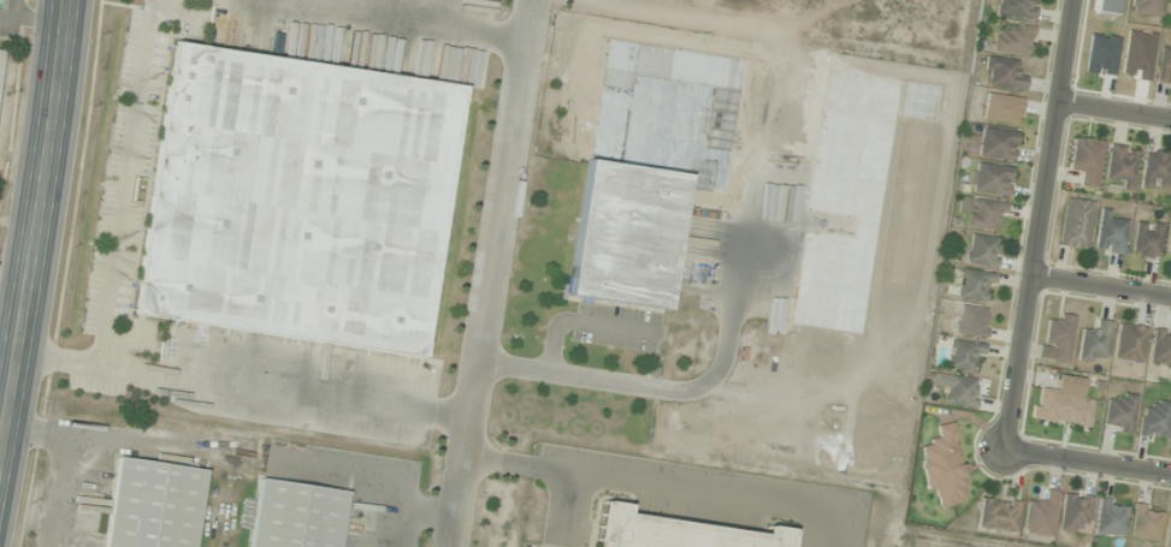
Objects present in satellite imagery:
building: (1170, 4)
building: (1146, 7)
building: (1016, 8)
road: (421, 16)
building: (1012, 38)
building: (0, 55)
building: (1164, 65)
building: (1003, 73)
building: (1001, 109)
road: (1113, 109)
building: (996, 144)
building: (1087, 161)
building: (1122, 165)
building: (1154, 170)
building: (992, 179)
road: (122, 184)
building: (296, 201)
road: (34, 213)
building: (981, 213)
building: (1075, 224)
road: (1039, 225)
building: (1110, 233)
building: (625, 236)
building: (1146, 239)
building: (1169, 249)
building: (982, 250)
road: (496, 273)
building: (975, 285)
road: (1101, 287)
road: (580, 321)
building: (971, 321)
building: (1059, 335)
building: (1130, 343)
building: (1094, 344)
building: (1160, 347)
building: (964, 355)
road: (708, 381)
road: (243, 388)
building: (957, 390)
building: (1063, 408)
building: (1120, 414)
building: (1155, 420)
road: (97, 434)
road: (1088, 463)
road: (365, 472)
road: (660, 487)
road: (54, 492)
building: (152, 505)
road: (558, 510)
building: (1075, 512)
road: (424, 515)
building: (998, 515)
building: (1041, 515)
building: (294, 516)
building: (1111, 517)
building: (1146, 522)
building: (1169, 528)
building: (672, 533)

